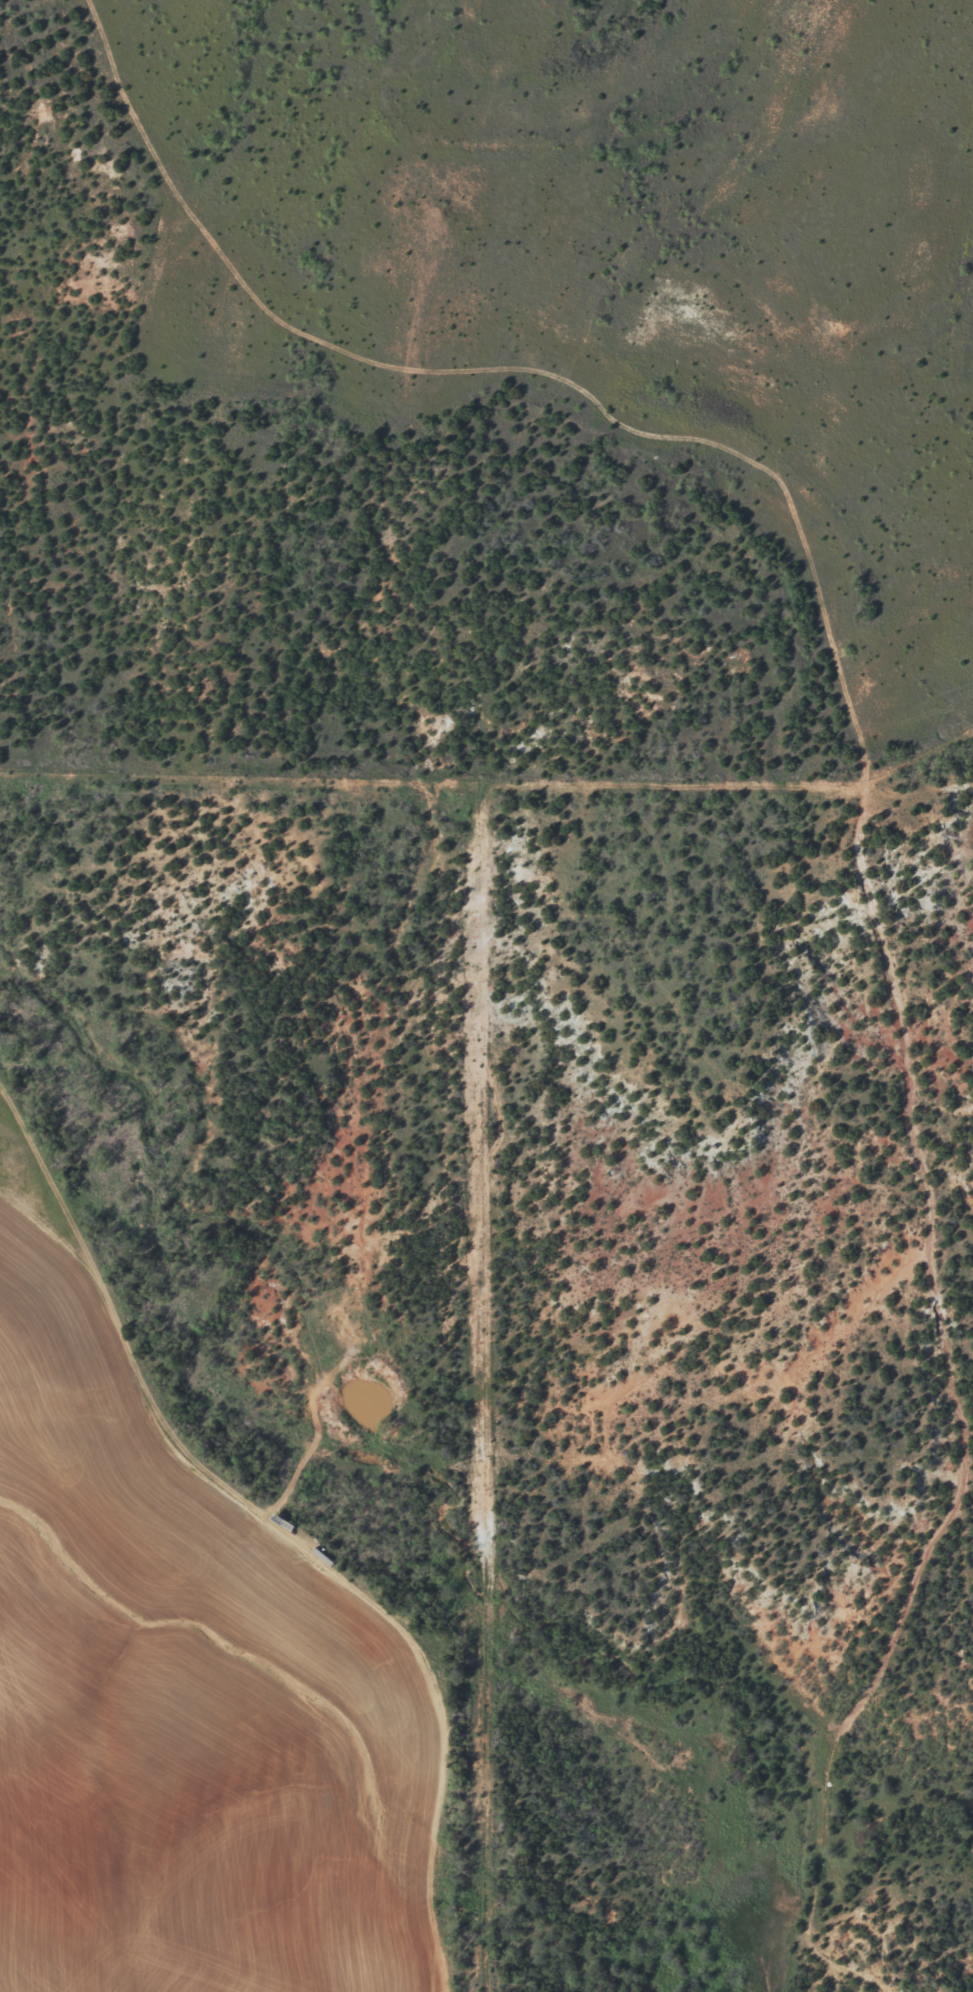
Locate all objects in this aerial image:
road: (918, 1414)

